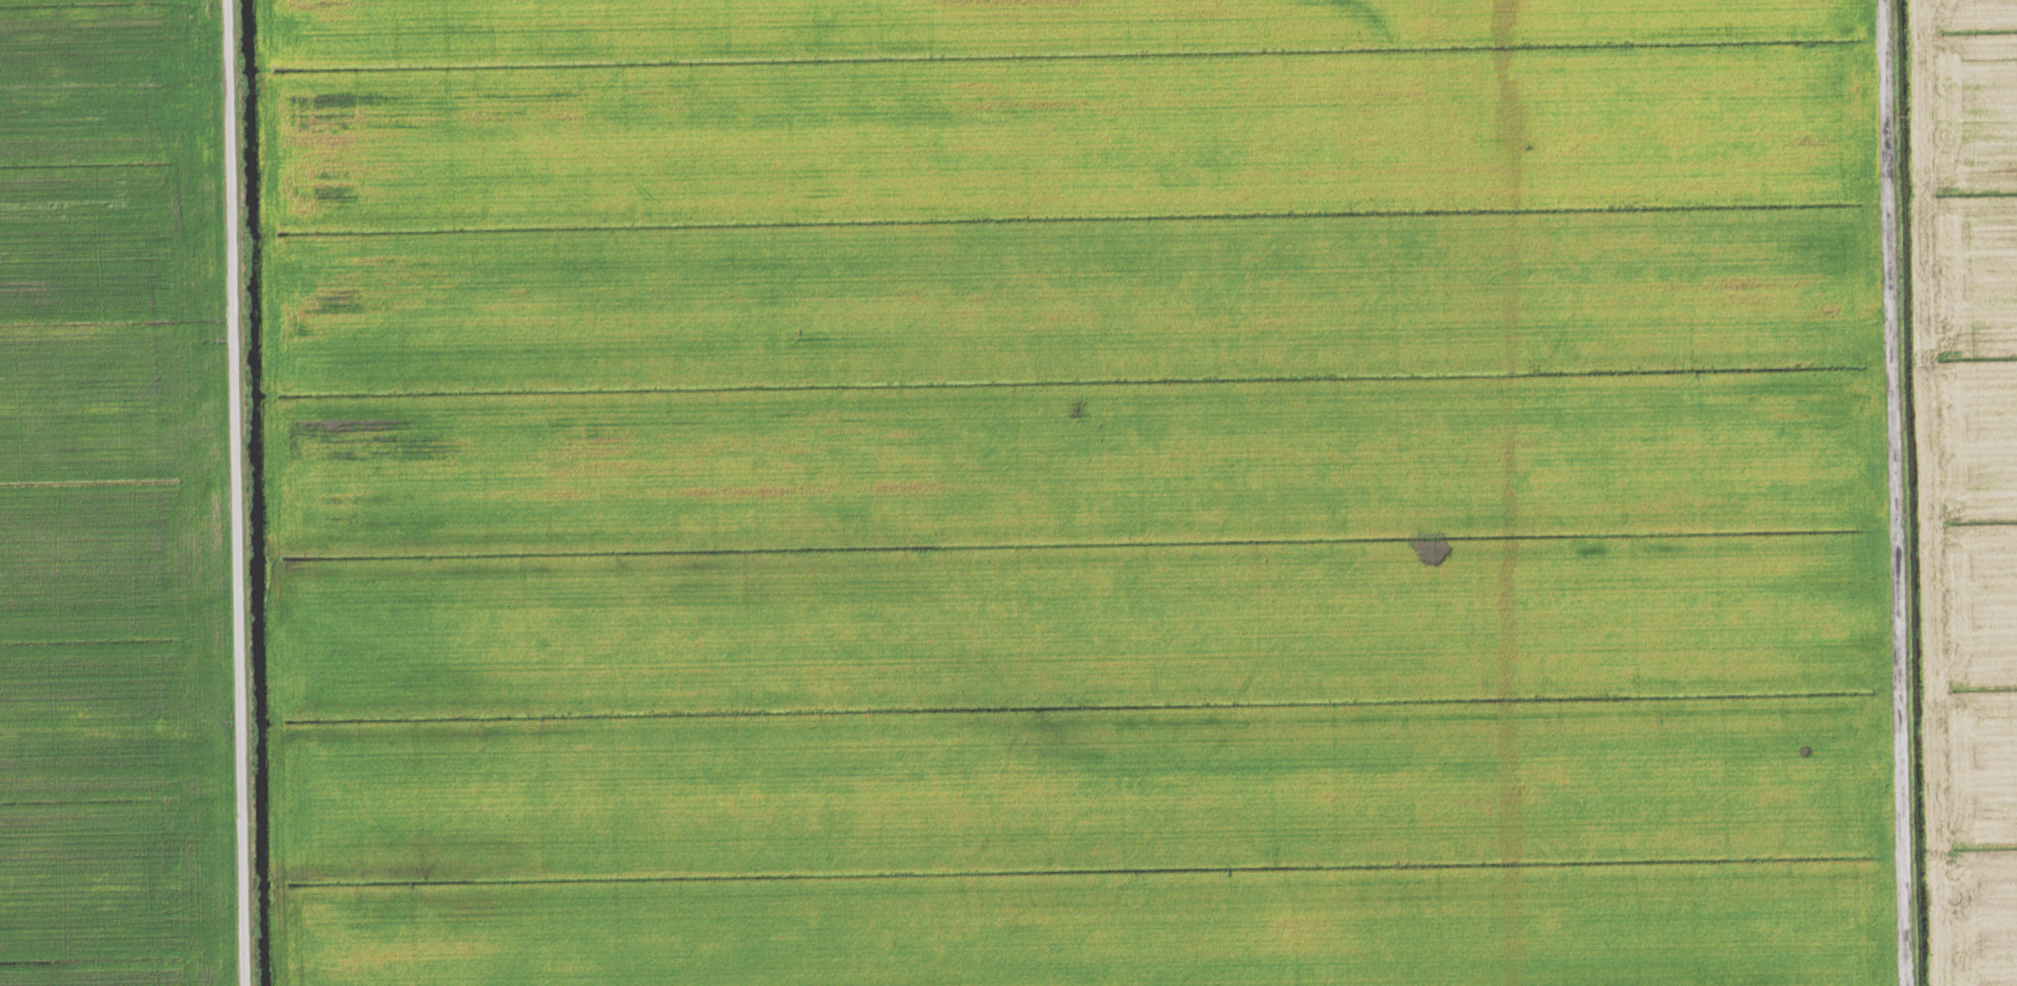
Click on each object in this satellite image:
crop: (1968, 475)
road: (227, 493)
crop: (1078, 493)
road: (1900, 493)

